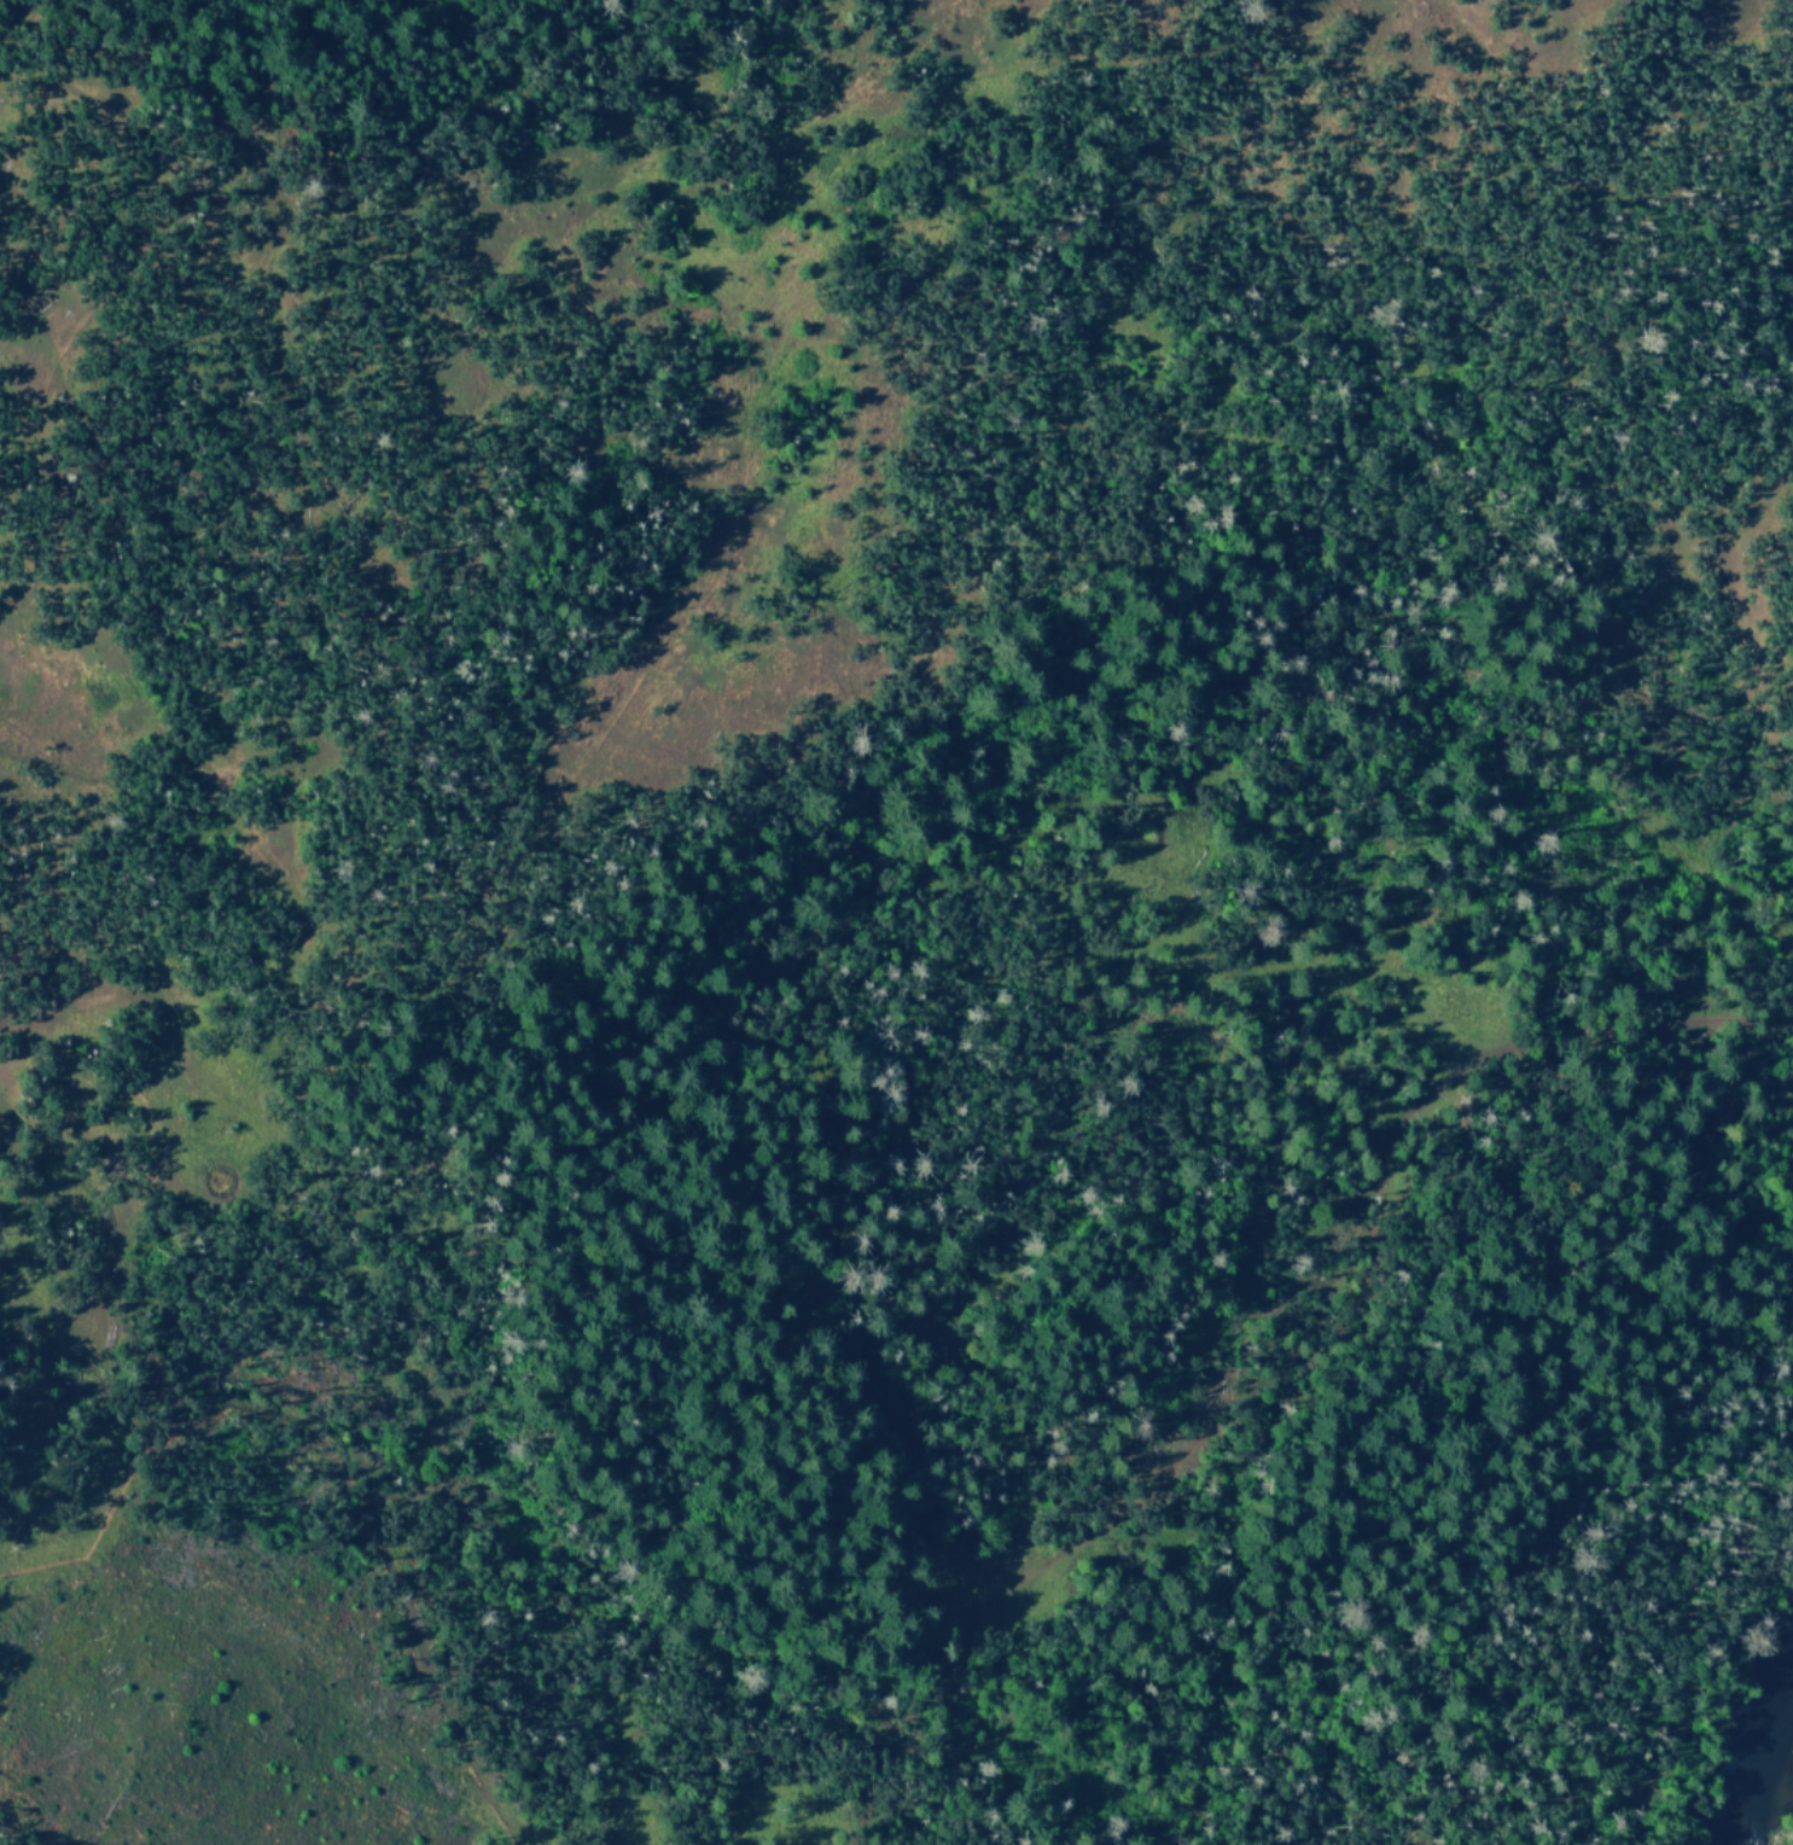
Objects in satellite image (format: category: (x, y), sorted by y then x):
river: (1762, 1775)

